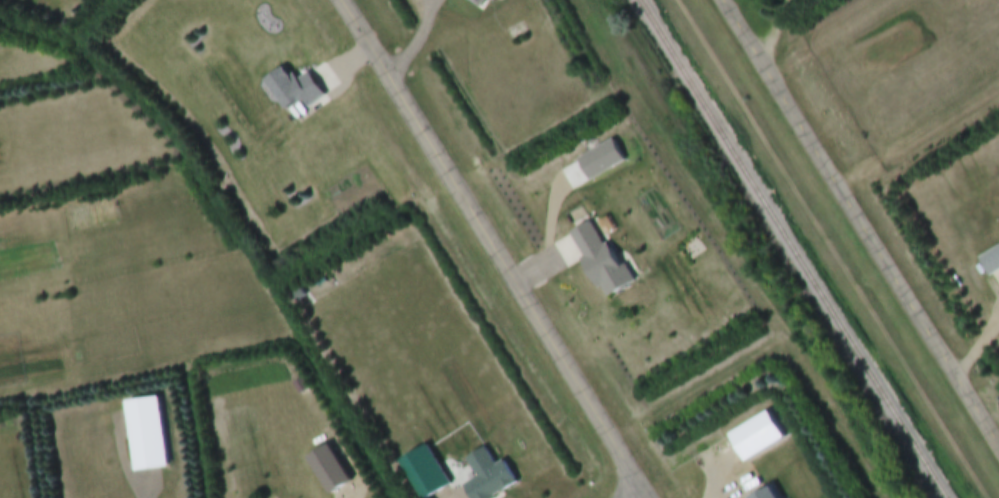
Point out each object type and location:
building: (478, 2)
road: (776, 29)
building: (296, 91)
road: (860, 224)
road: (496, 249)
railway: (783, 249)
building: (600, 261)
building: (991, 263)
road: (978, 352)
building: (753, 438)
building: (145, 446)
building: (421, 473)
building: (488, 483)
road: (149, 487)
building: (764, 494)
road: (647, 497)

